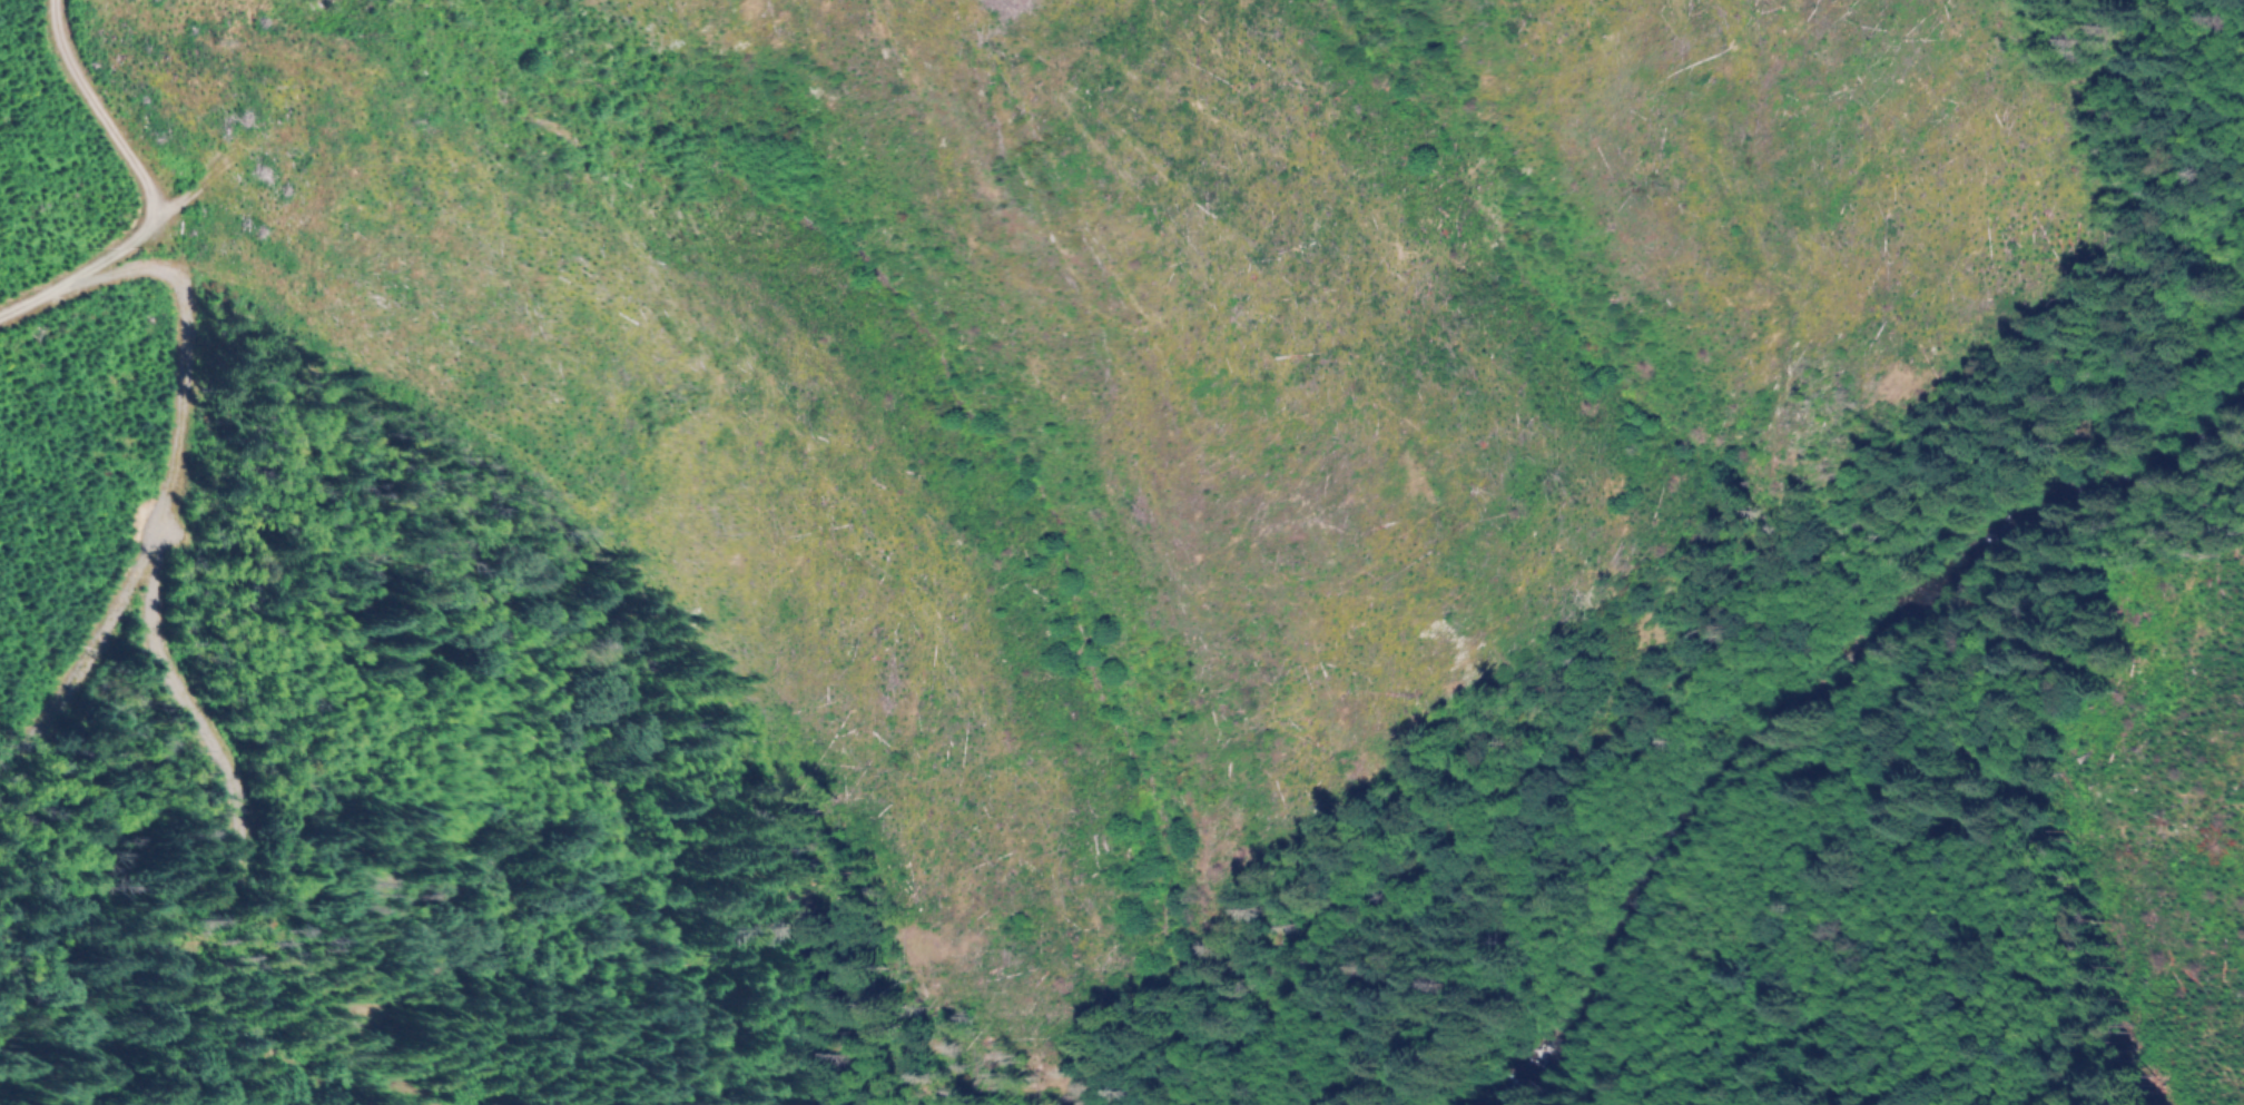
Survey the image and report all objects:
road: (124, 149)
road: (176, 435)
road: (228, 777)

